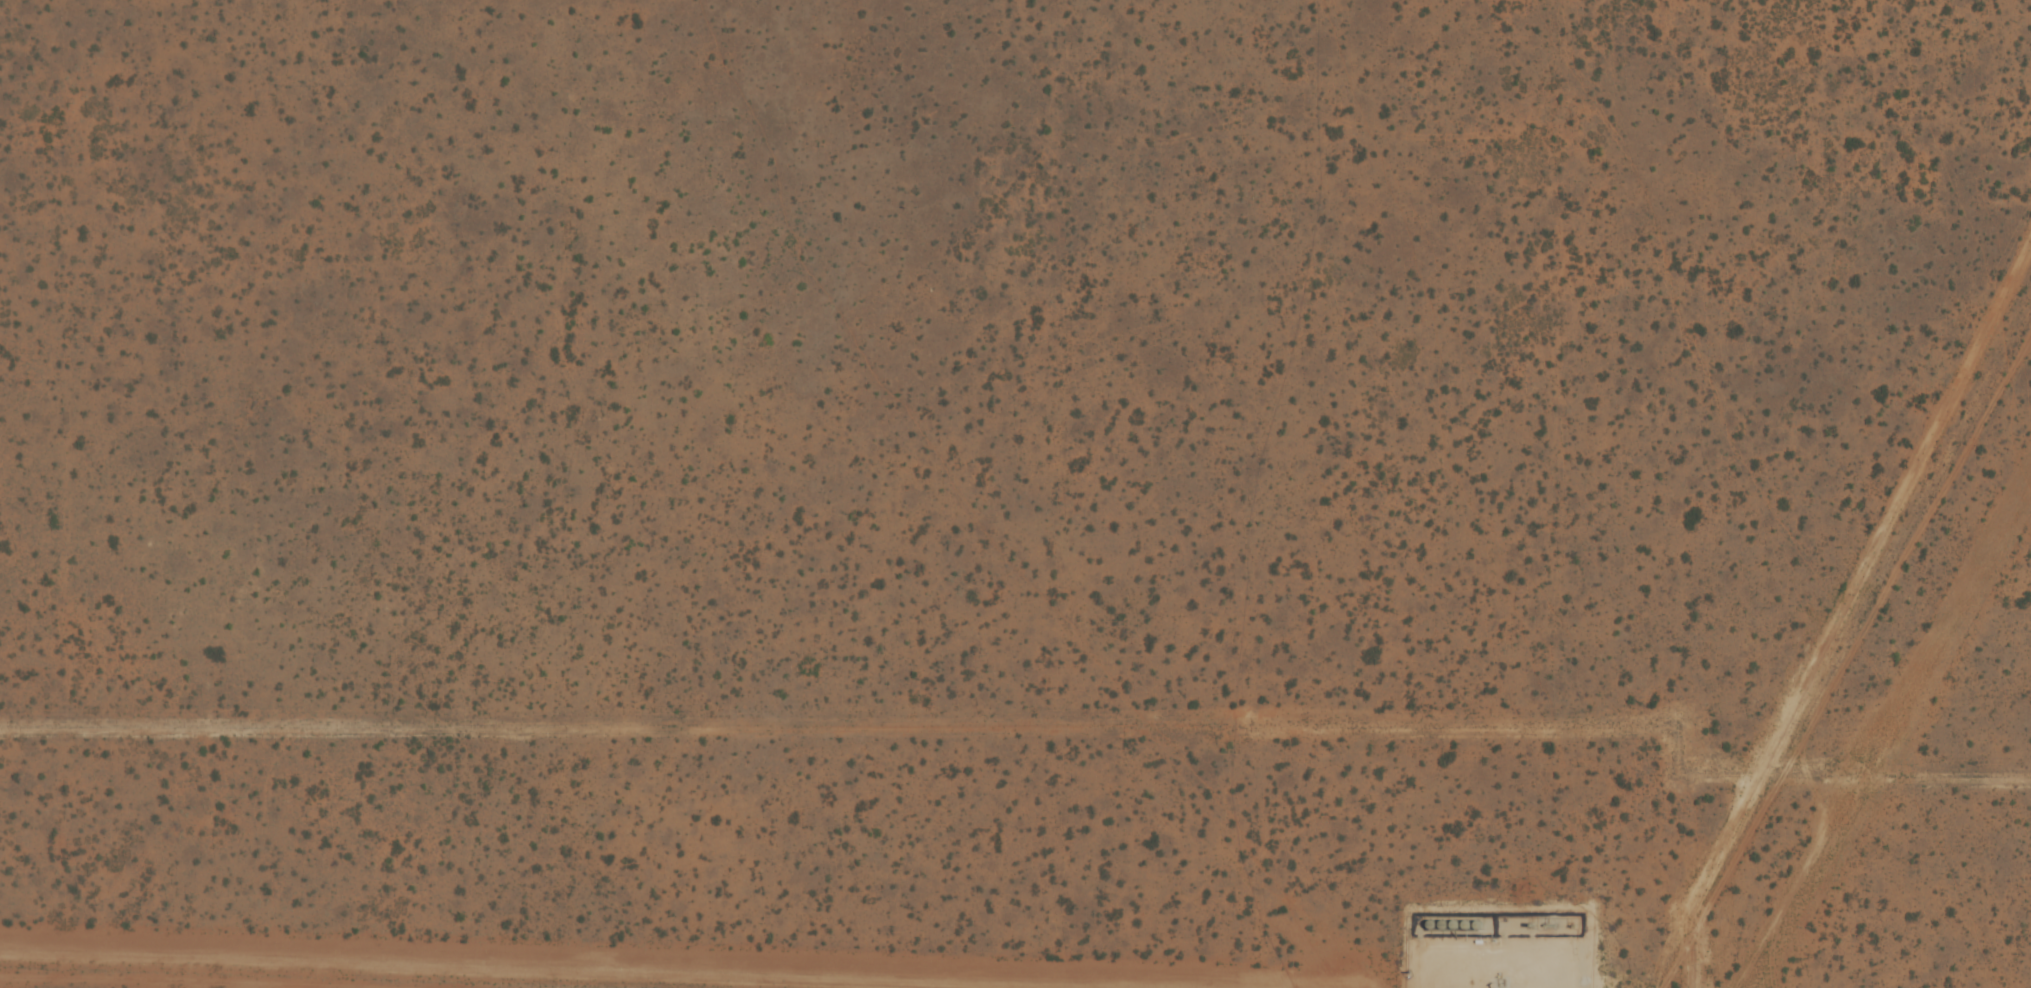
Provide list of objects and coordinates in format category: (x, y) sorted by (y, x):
road: (1430, 982)

